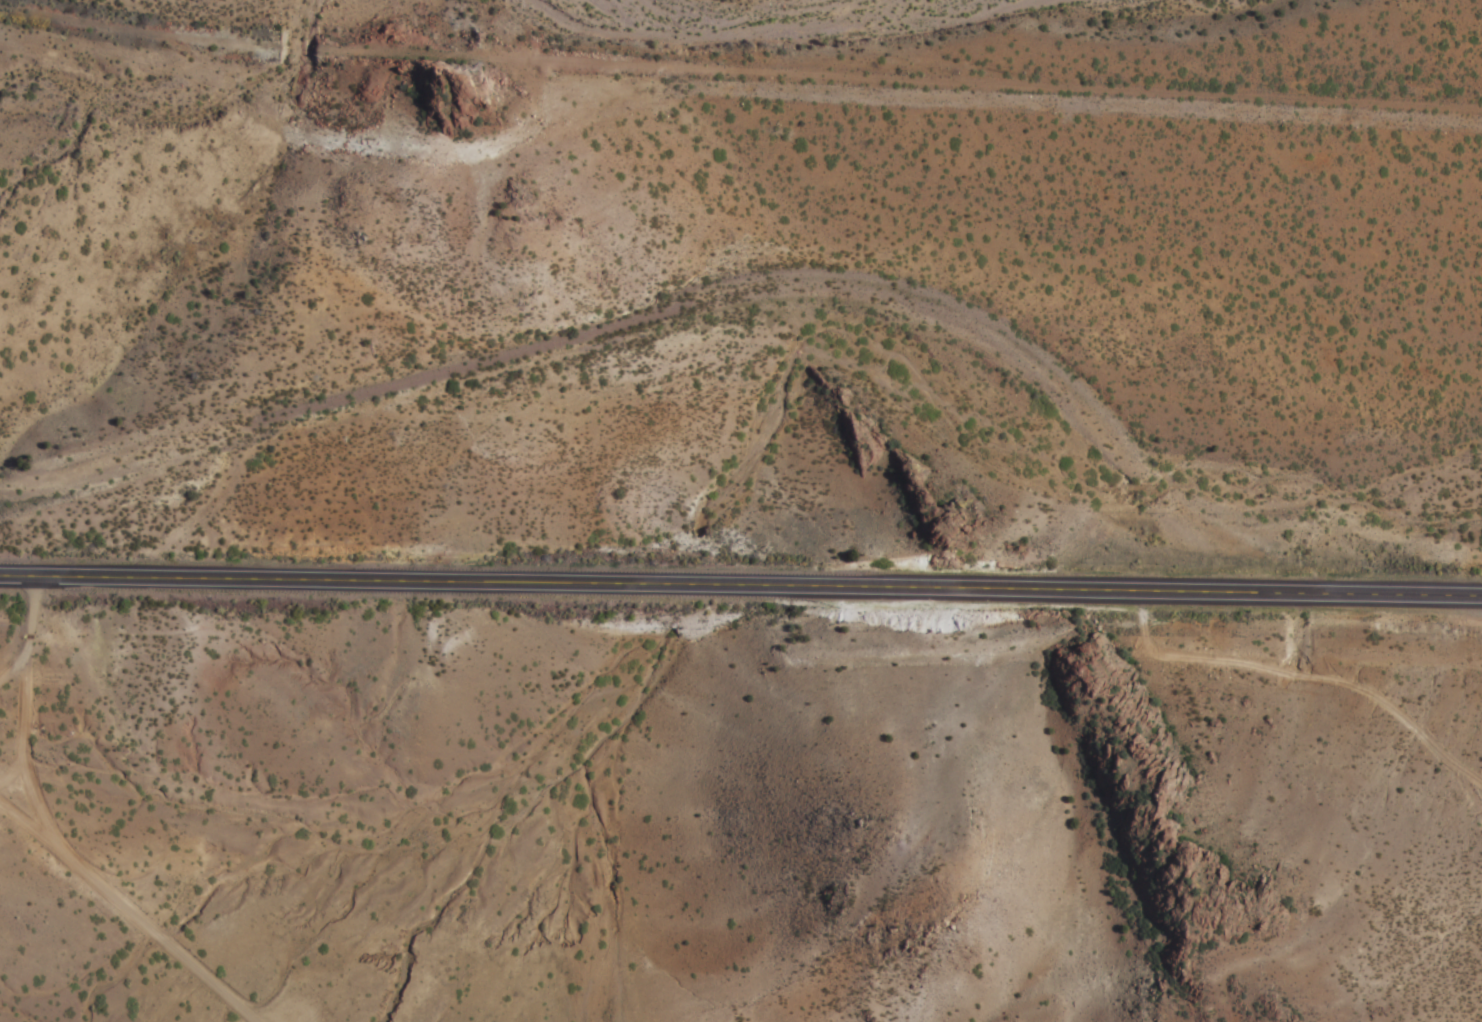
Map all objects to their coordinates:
road: (741, 587)
road: (1299, 678)
road: (52, 841)

